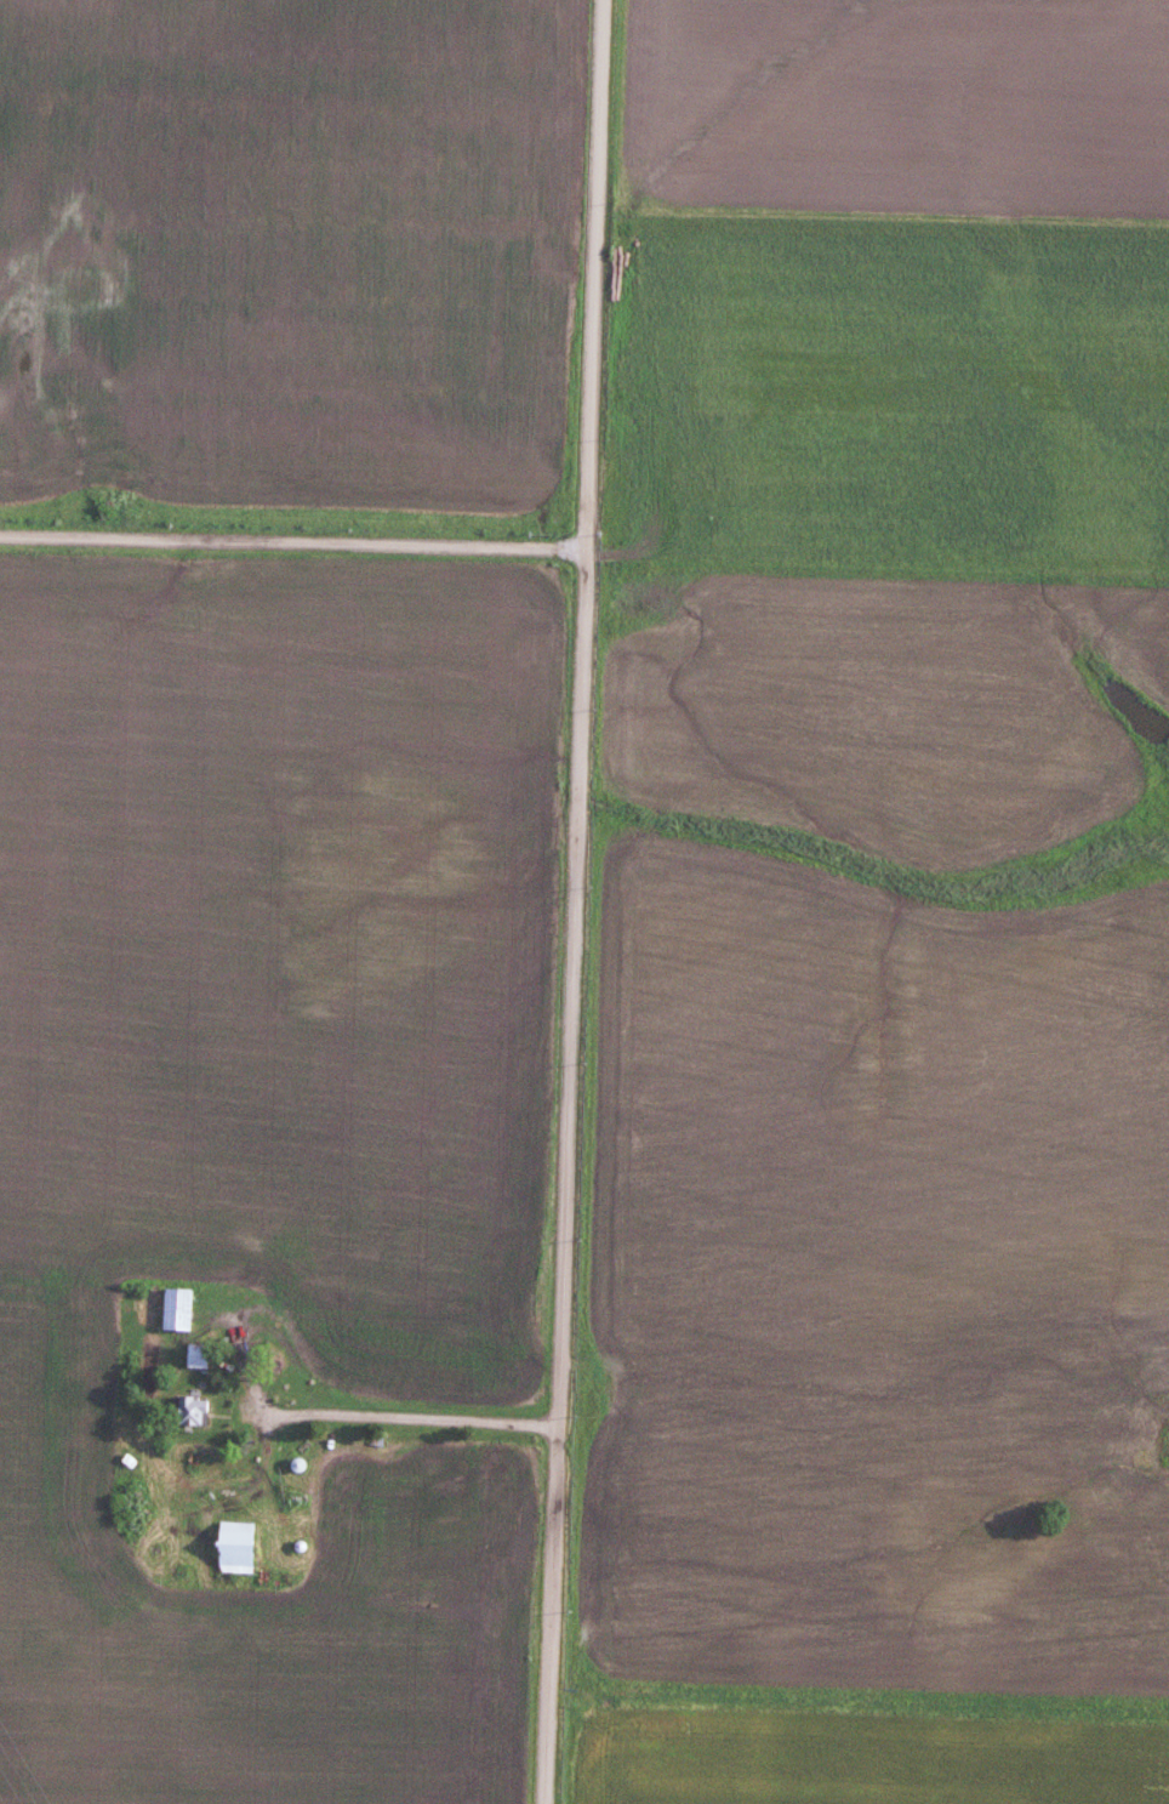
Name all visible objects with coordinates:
road: (293, 541)
road: (574, 901)
building: (177, 1307)
building: (196, 1354)
building: (190, 1409)
road: (372, 1416)
building: (235, 1544)

